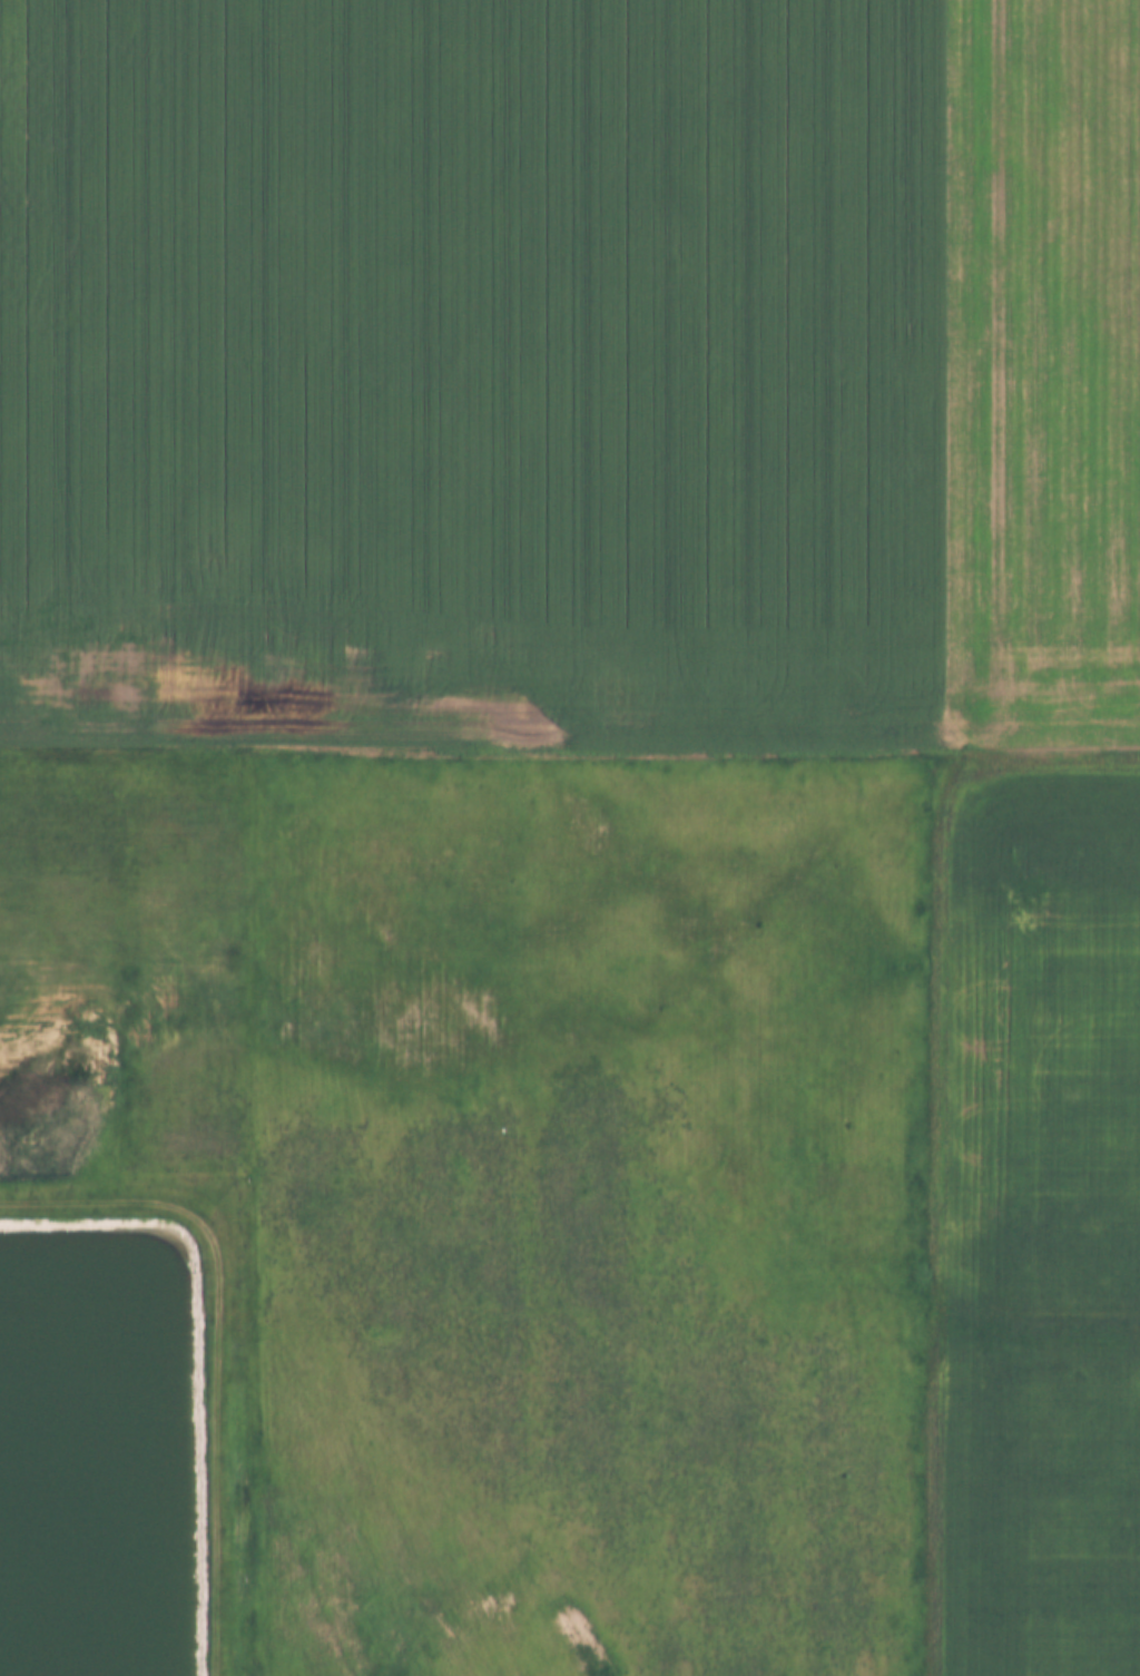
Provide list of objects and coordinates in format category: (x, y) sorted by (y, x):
road: (223, 1336)

